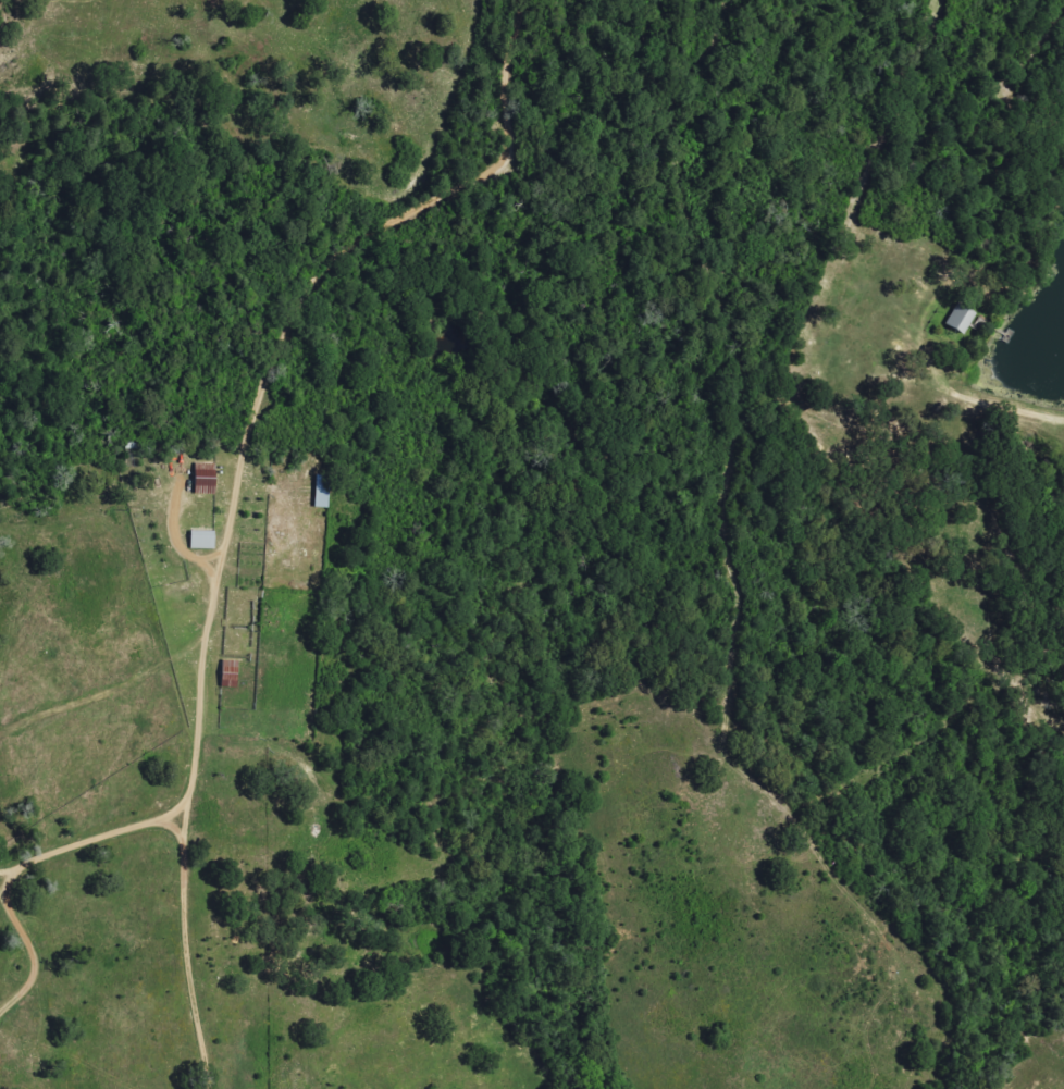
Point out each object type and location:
building: (962, 319)
road: (279, 403)
building: (205, 542)

